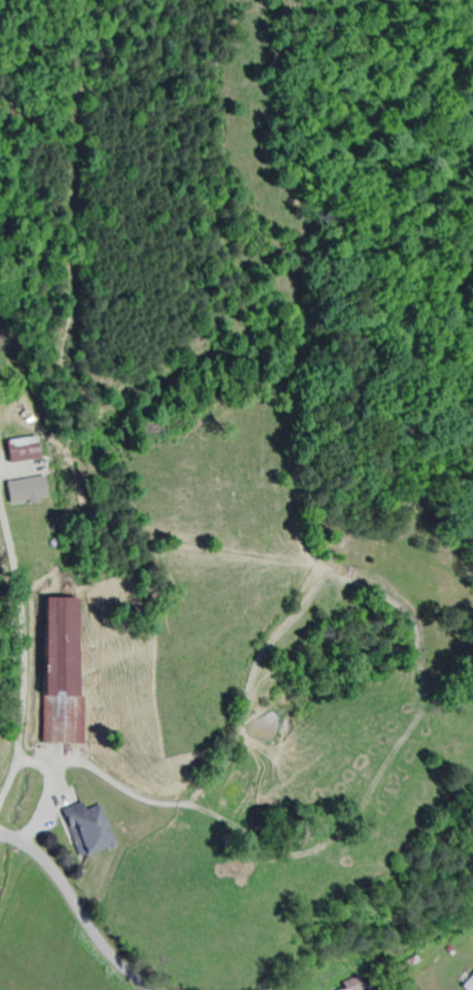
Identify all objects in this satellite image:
park: (411, 576)
building: (63, 677)
building: (89, 830)
road: (1, 835)
road: (77, 908)
building: (468, 984)

